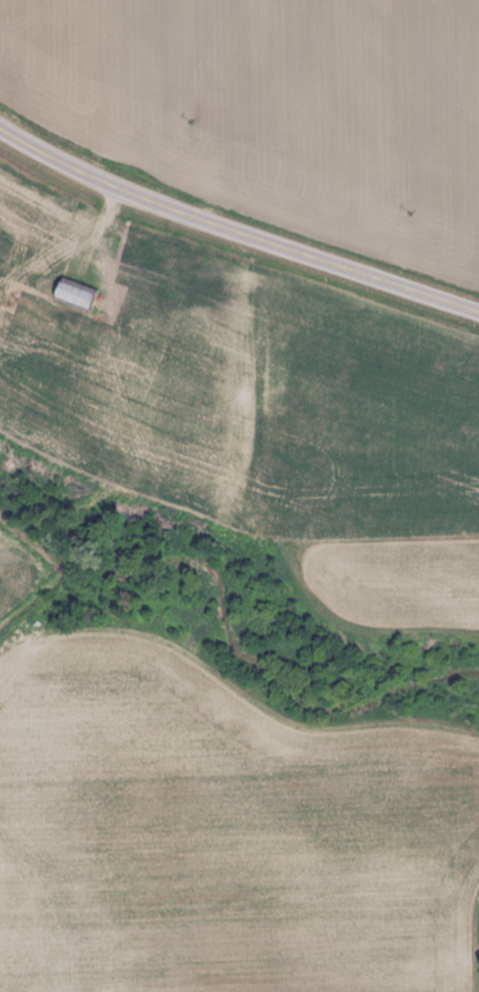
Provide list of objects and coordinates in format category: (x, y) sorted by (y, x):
road: (234, 232)
building: (73, 295)

